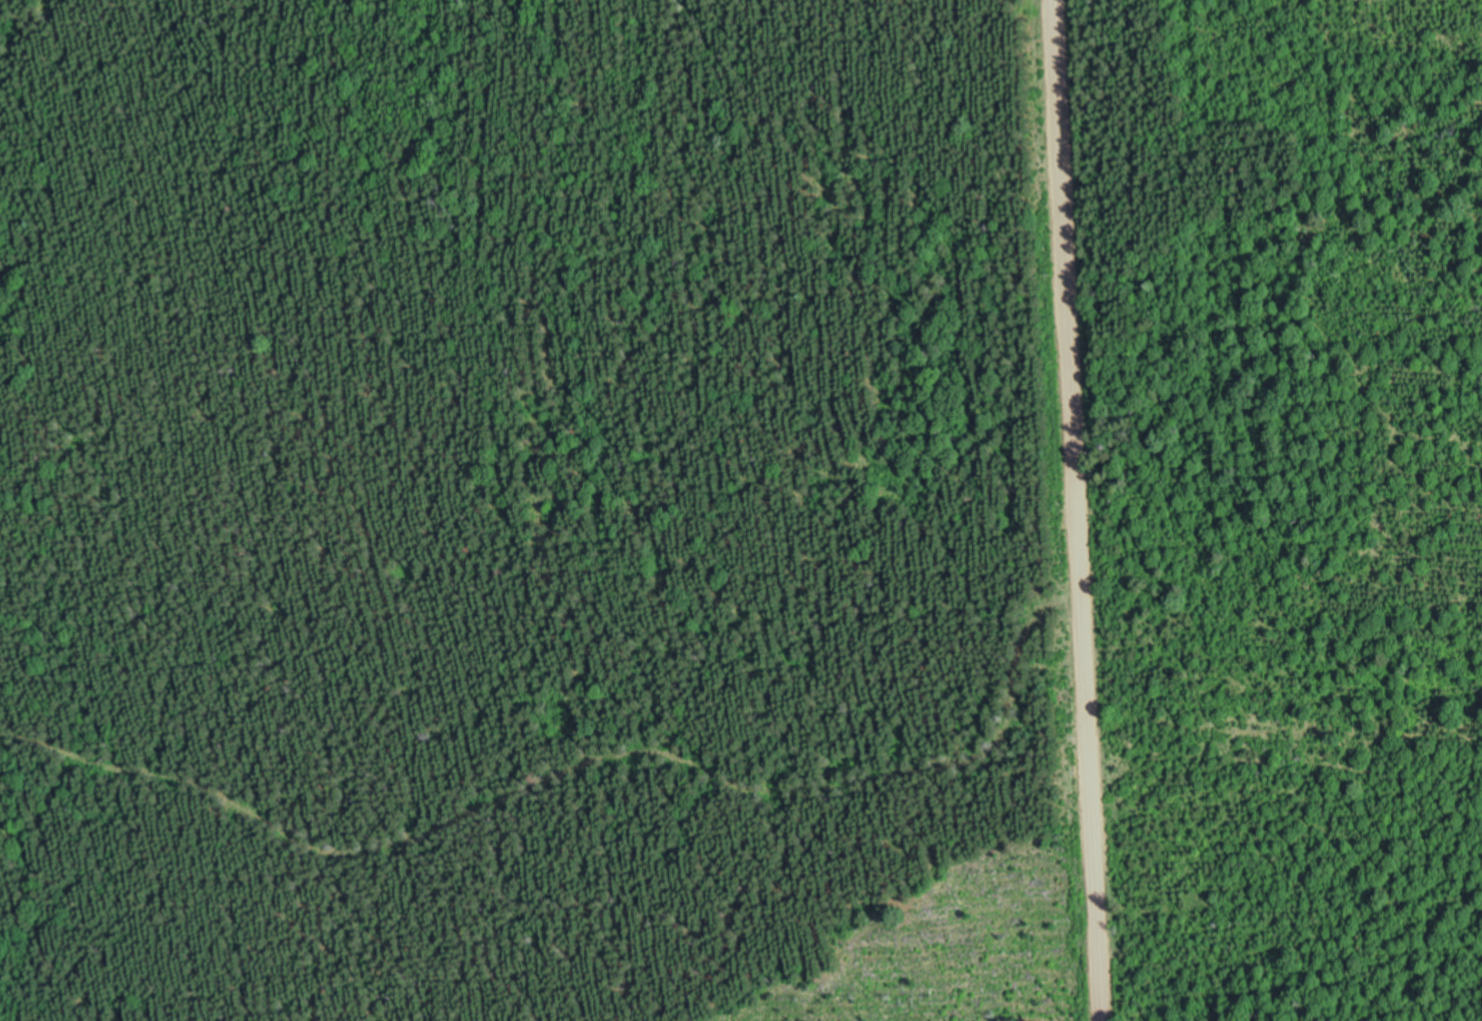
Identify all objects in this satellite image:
road: (1078, 510)

